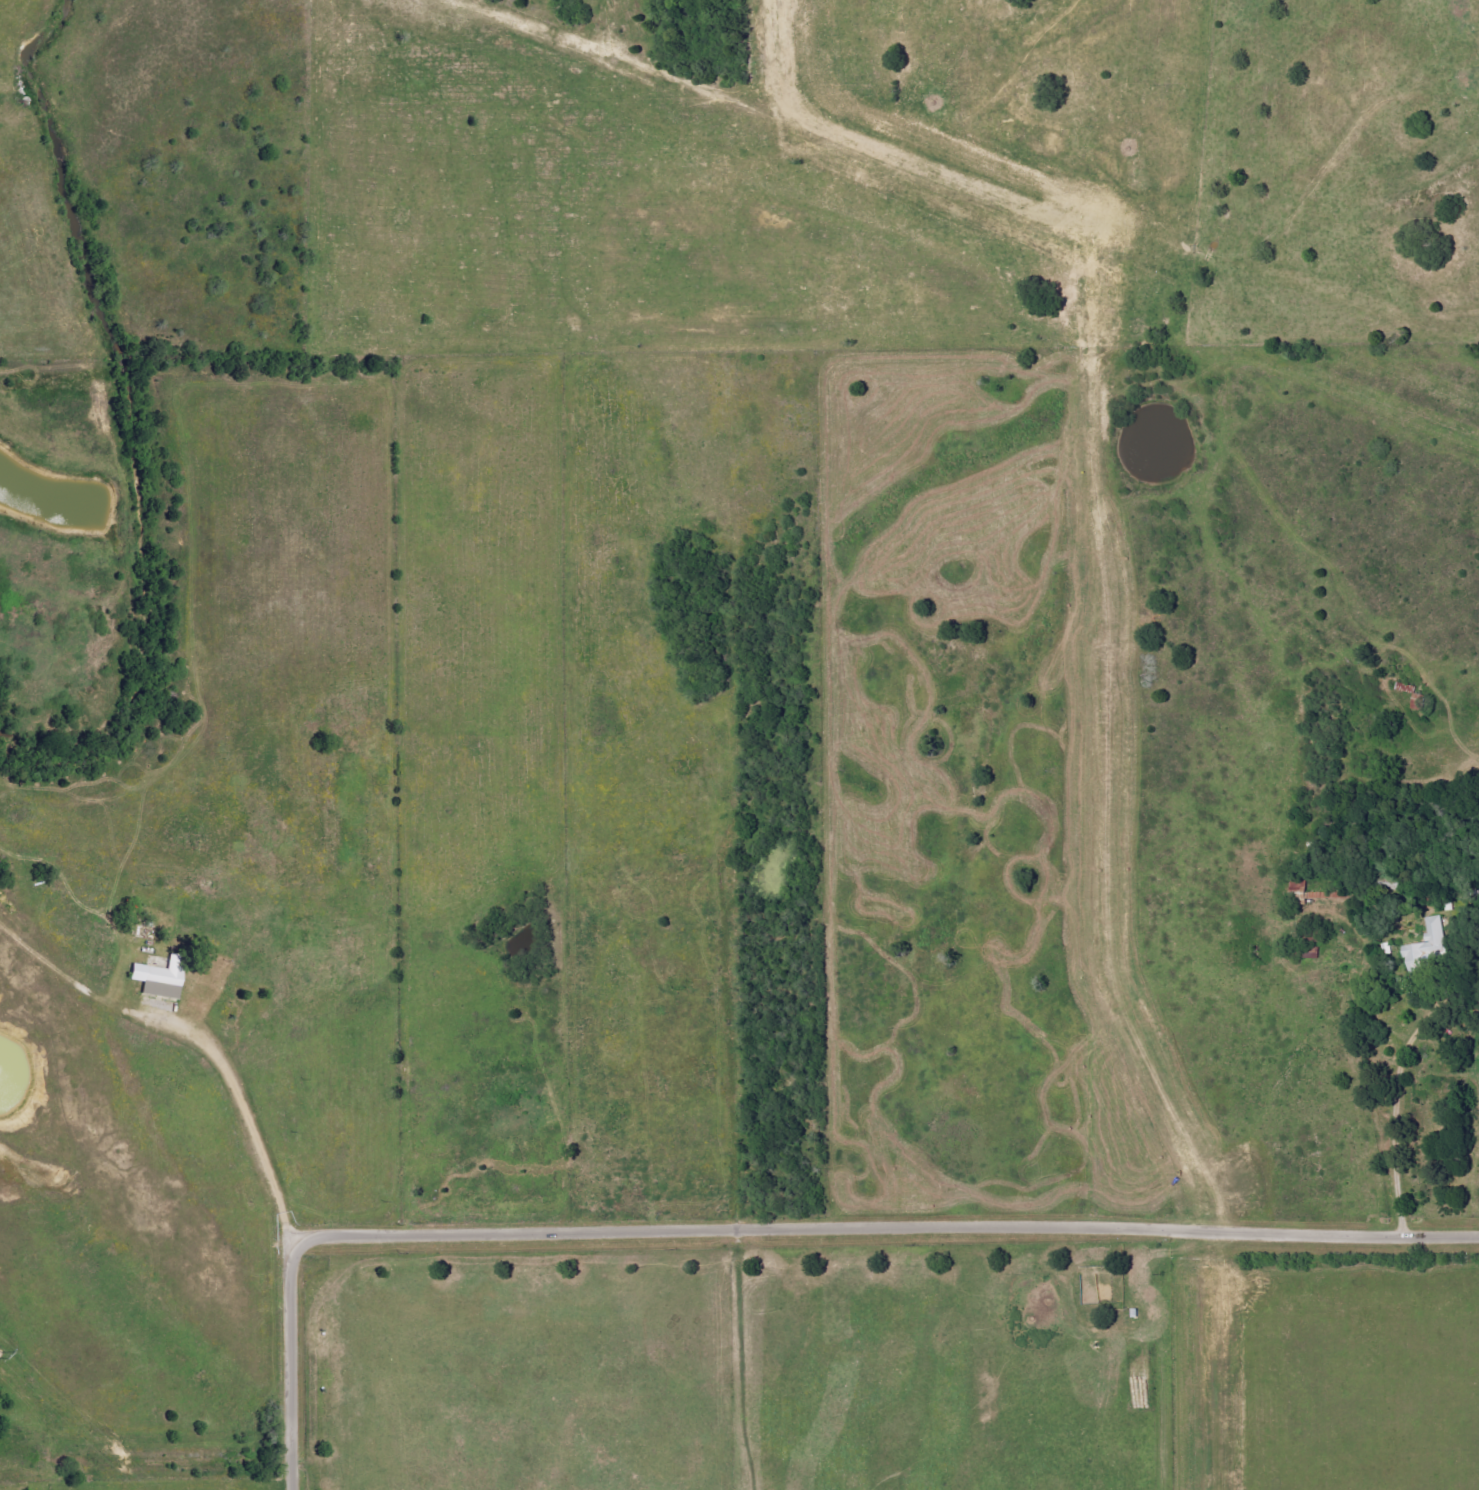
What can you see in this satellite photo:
building: (1303, 892)
building: (1429, 946)
building: (158, 980)
road: (237, 1106)
road: (1397, 1120)
road: (886, 1227)
road: (296, 1368)

